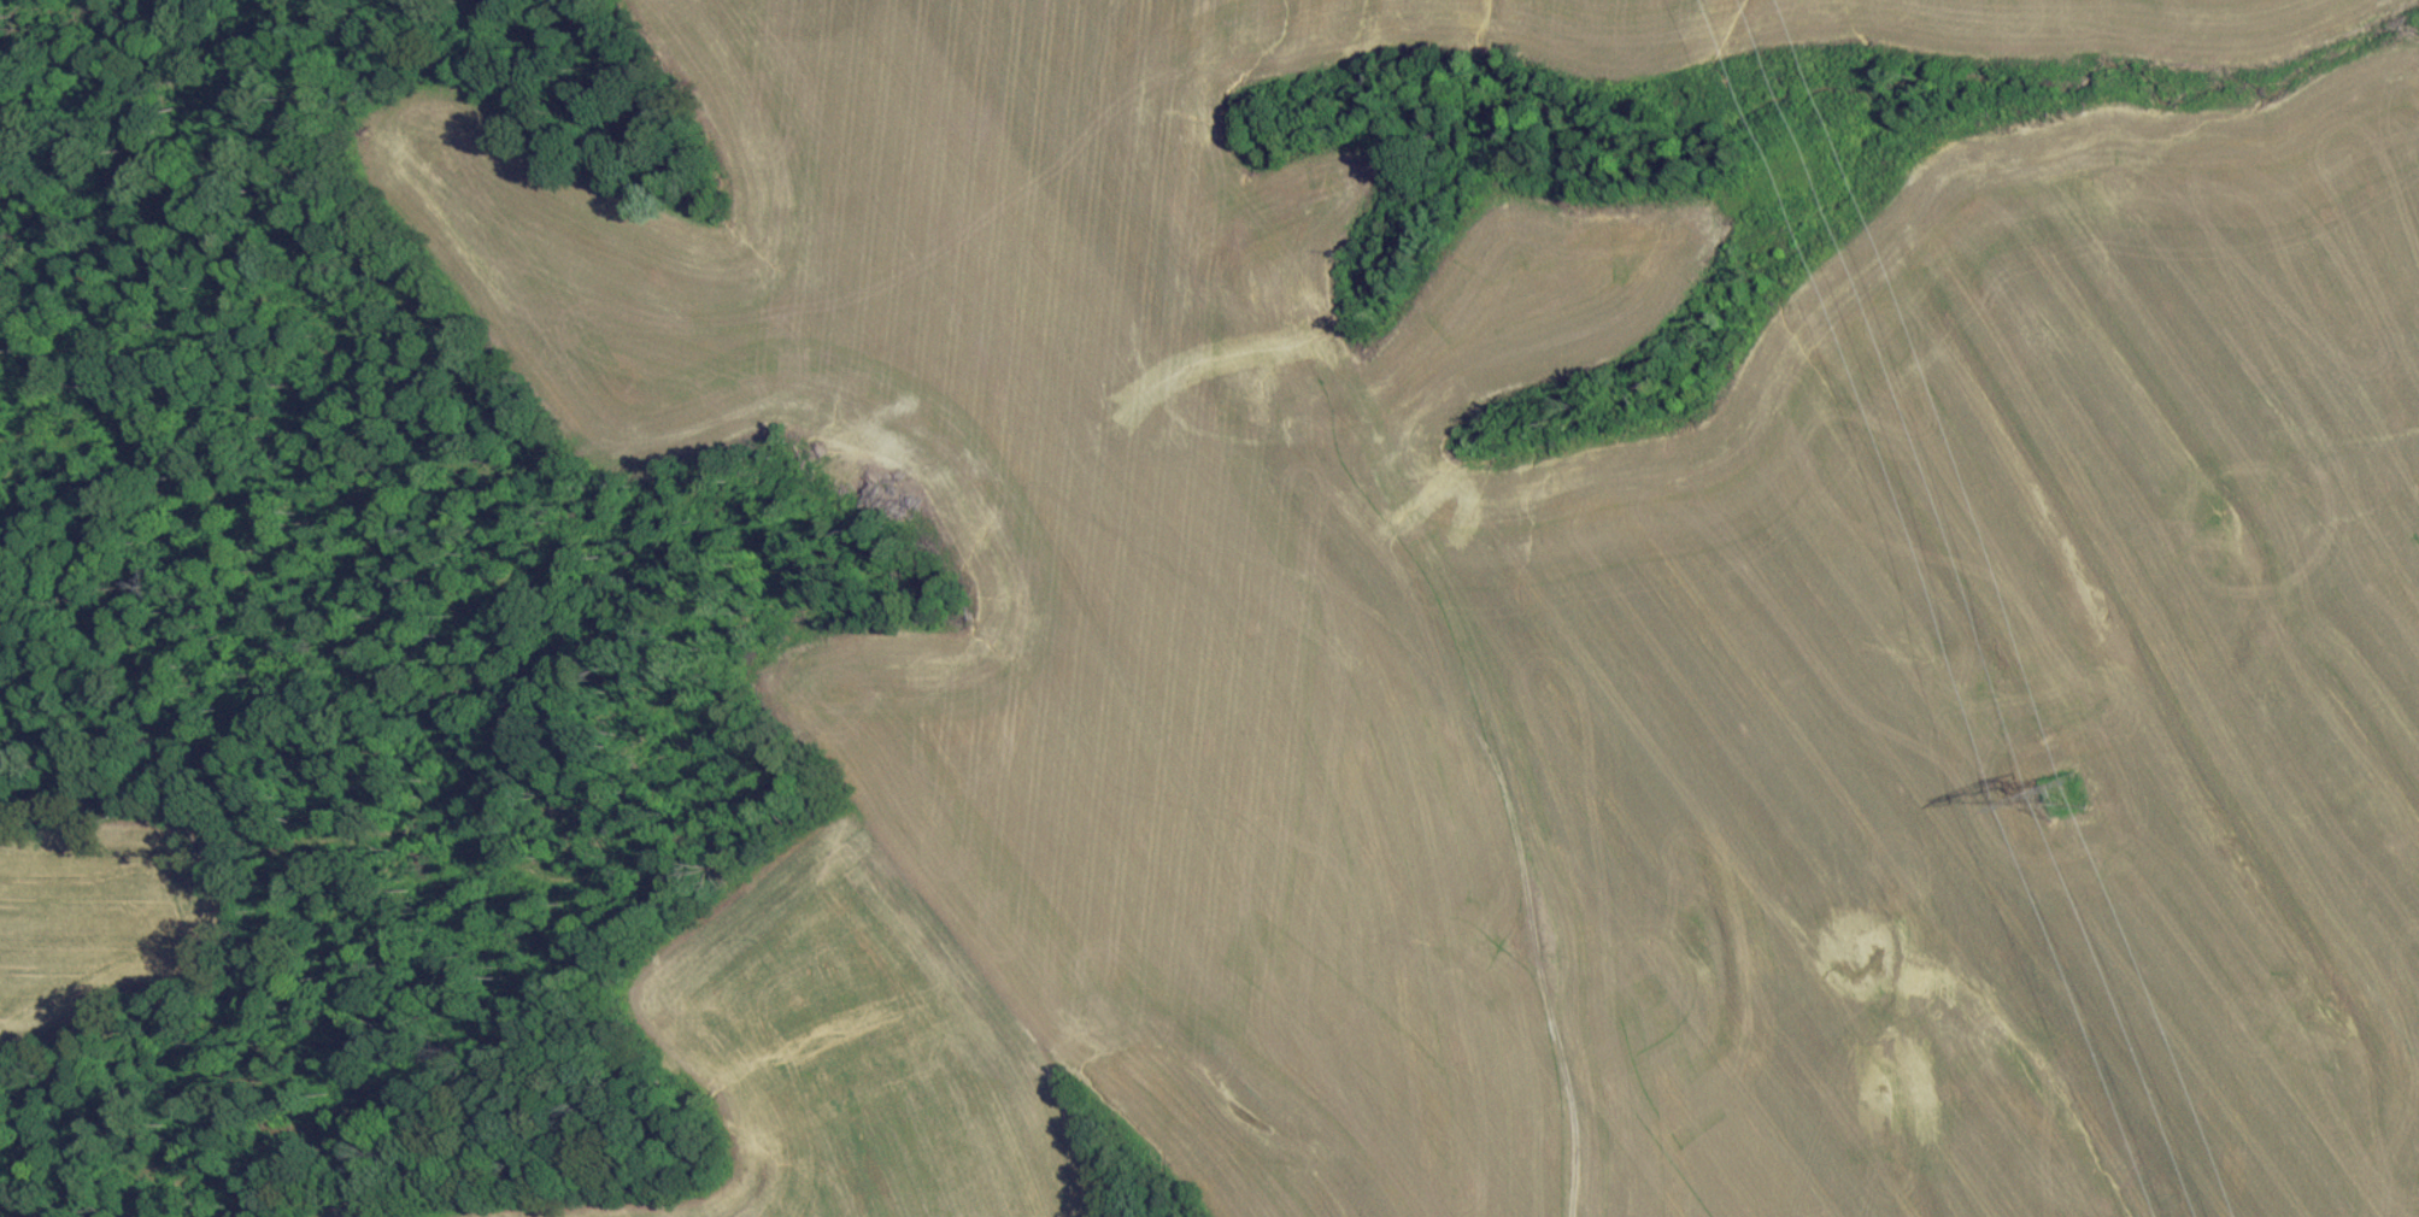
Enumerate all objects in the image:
power tower: (2065, 800)

